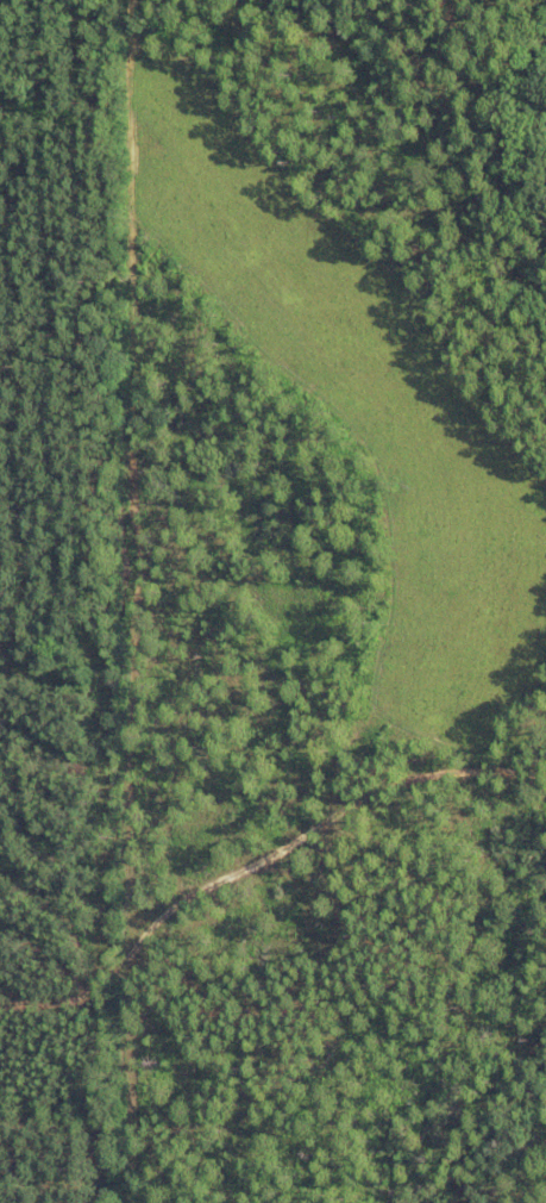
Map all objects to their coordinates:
road: (262, 858)

